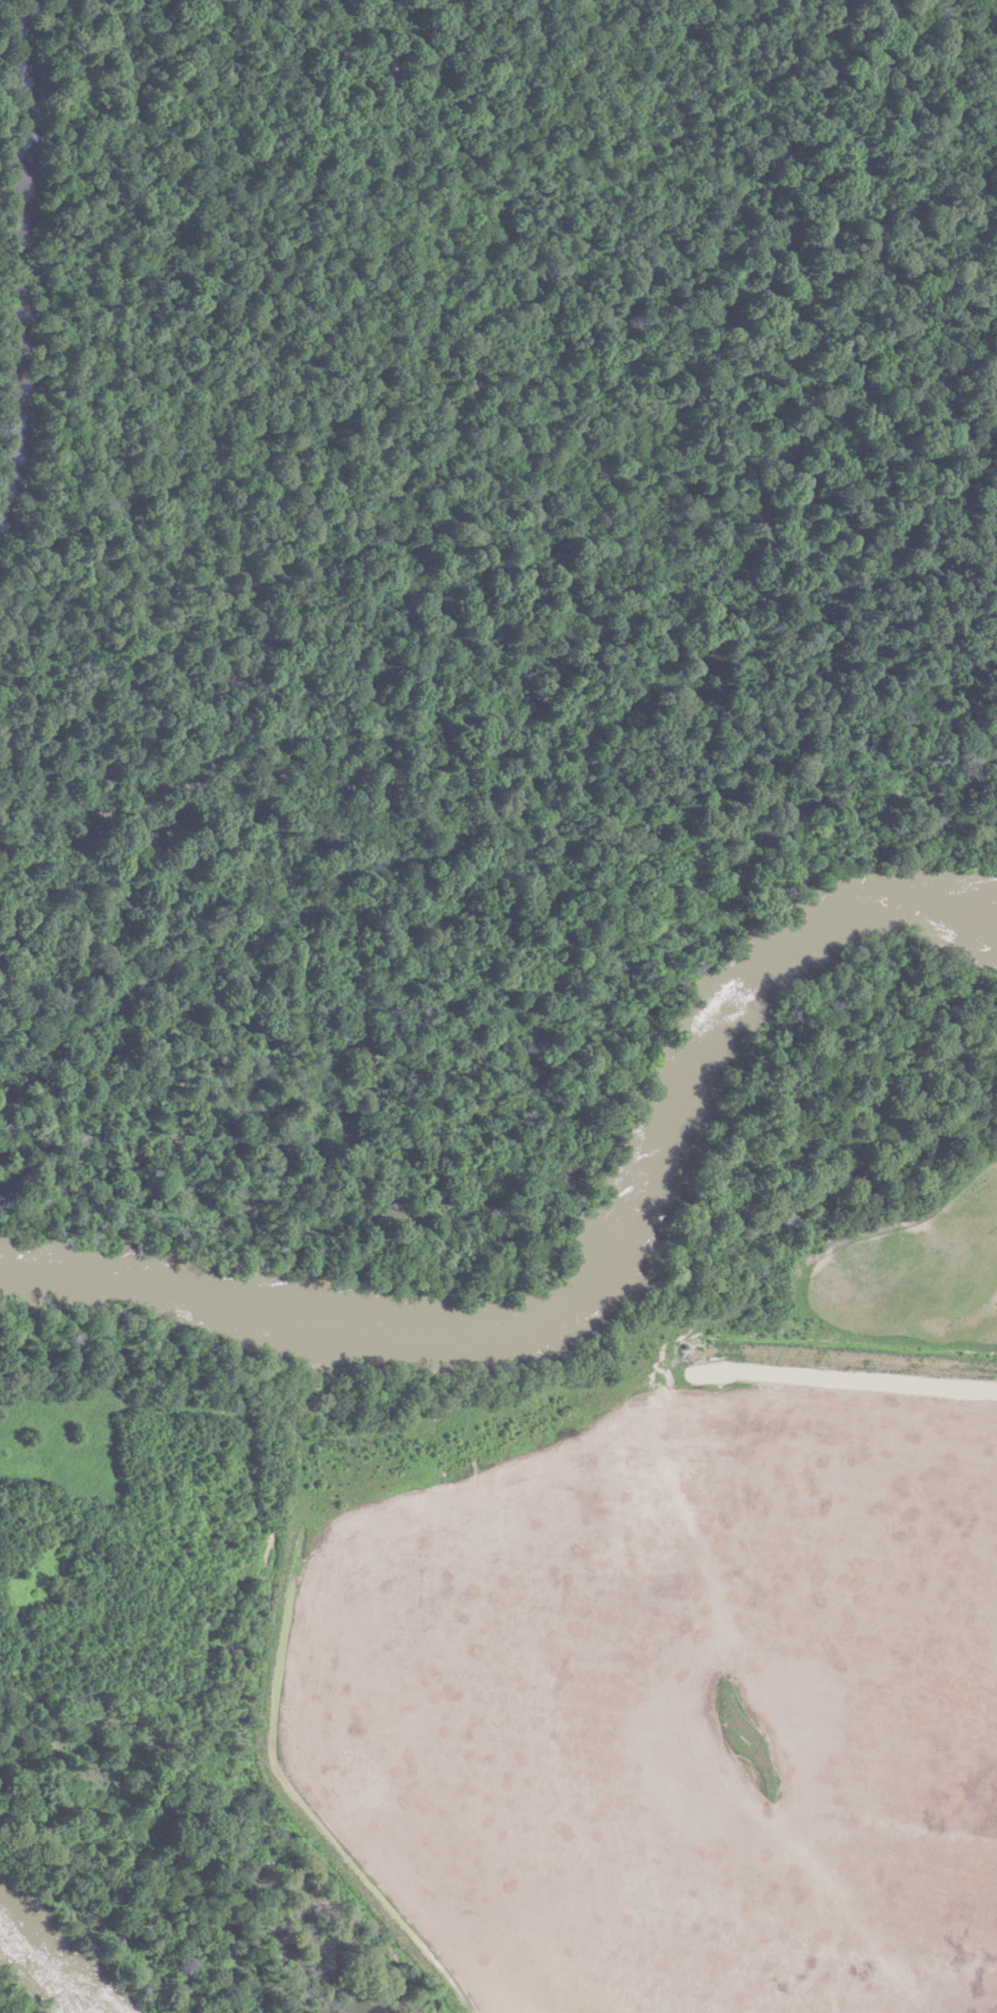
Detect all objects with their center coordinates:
river: (599, 1287)
river: (58, 1969)

